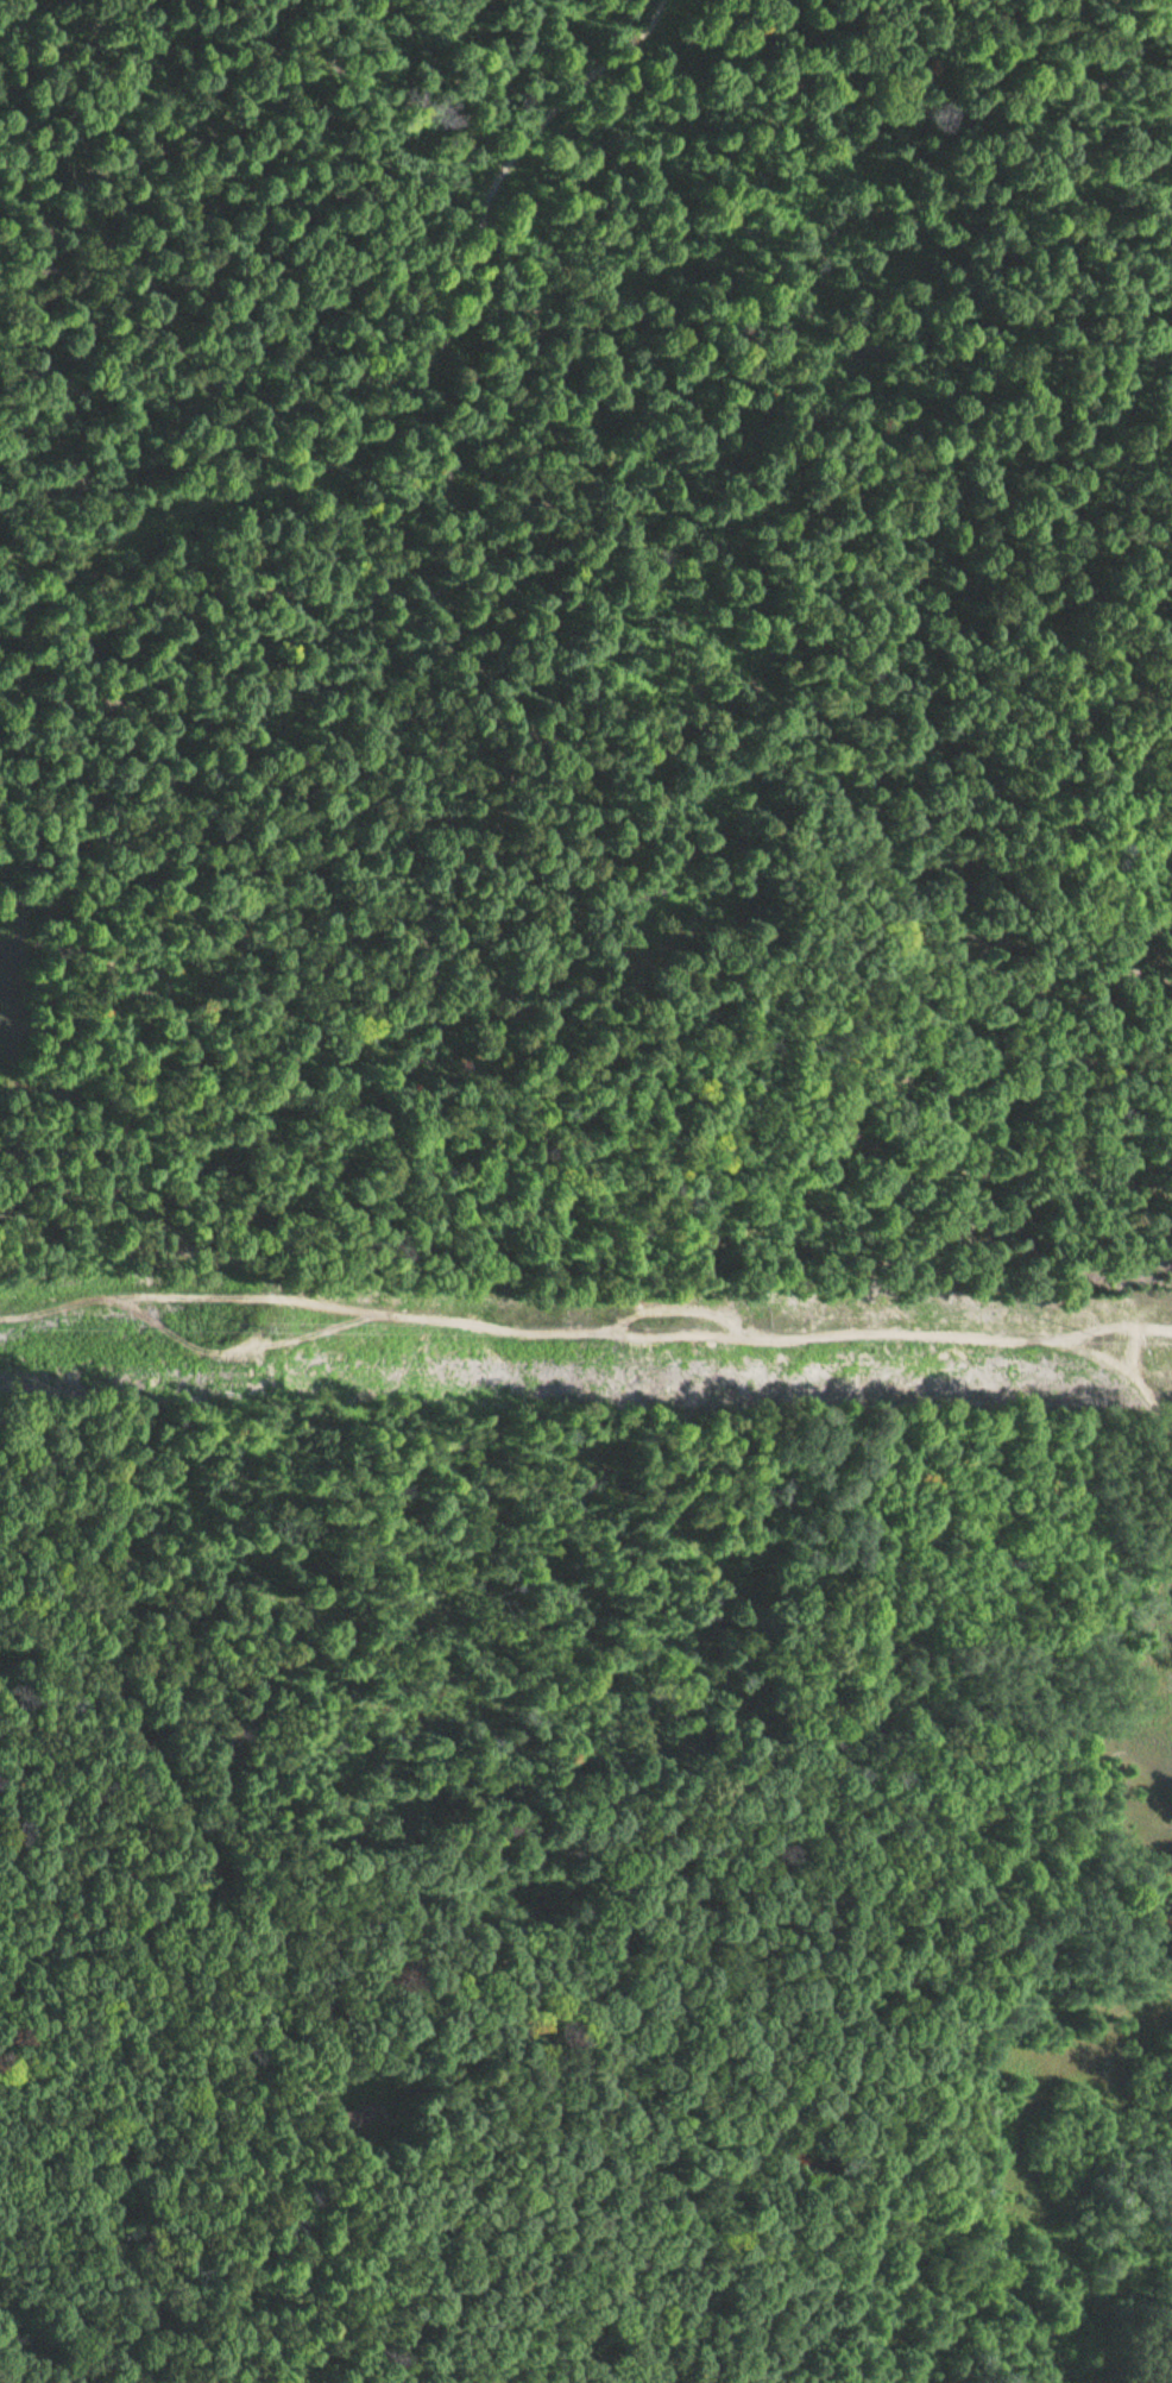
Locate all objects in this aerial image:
road: (403, 395)
road: (139, 1737)
building: (354, 2115)
road: (32, 2356)

